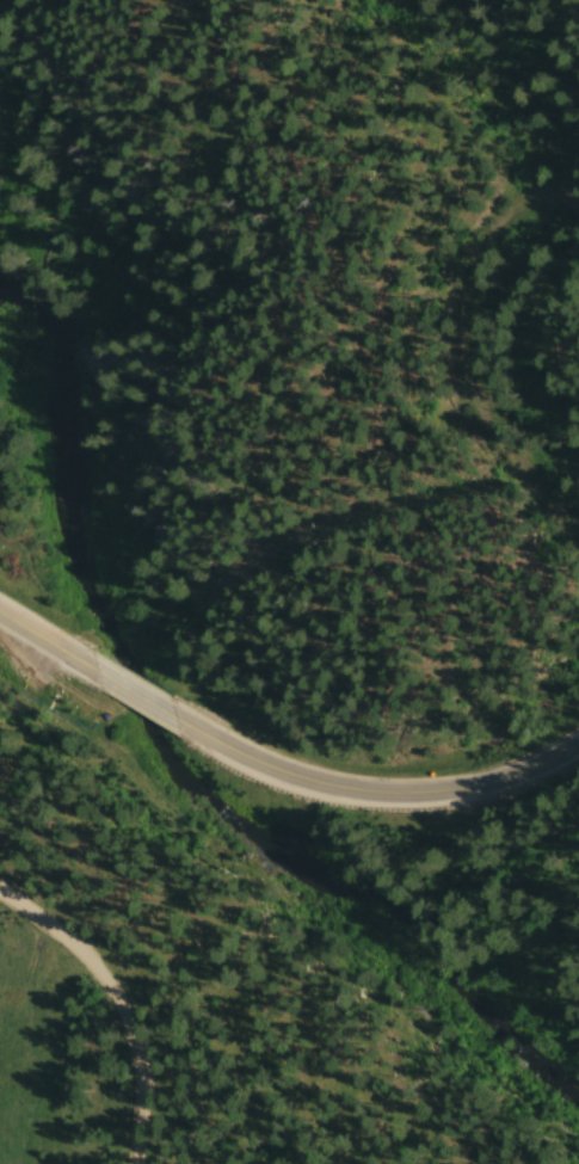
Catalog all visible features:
road: (60, 655)
road: (148, 708)
road: (374, 799)
road: (117, 1009)

